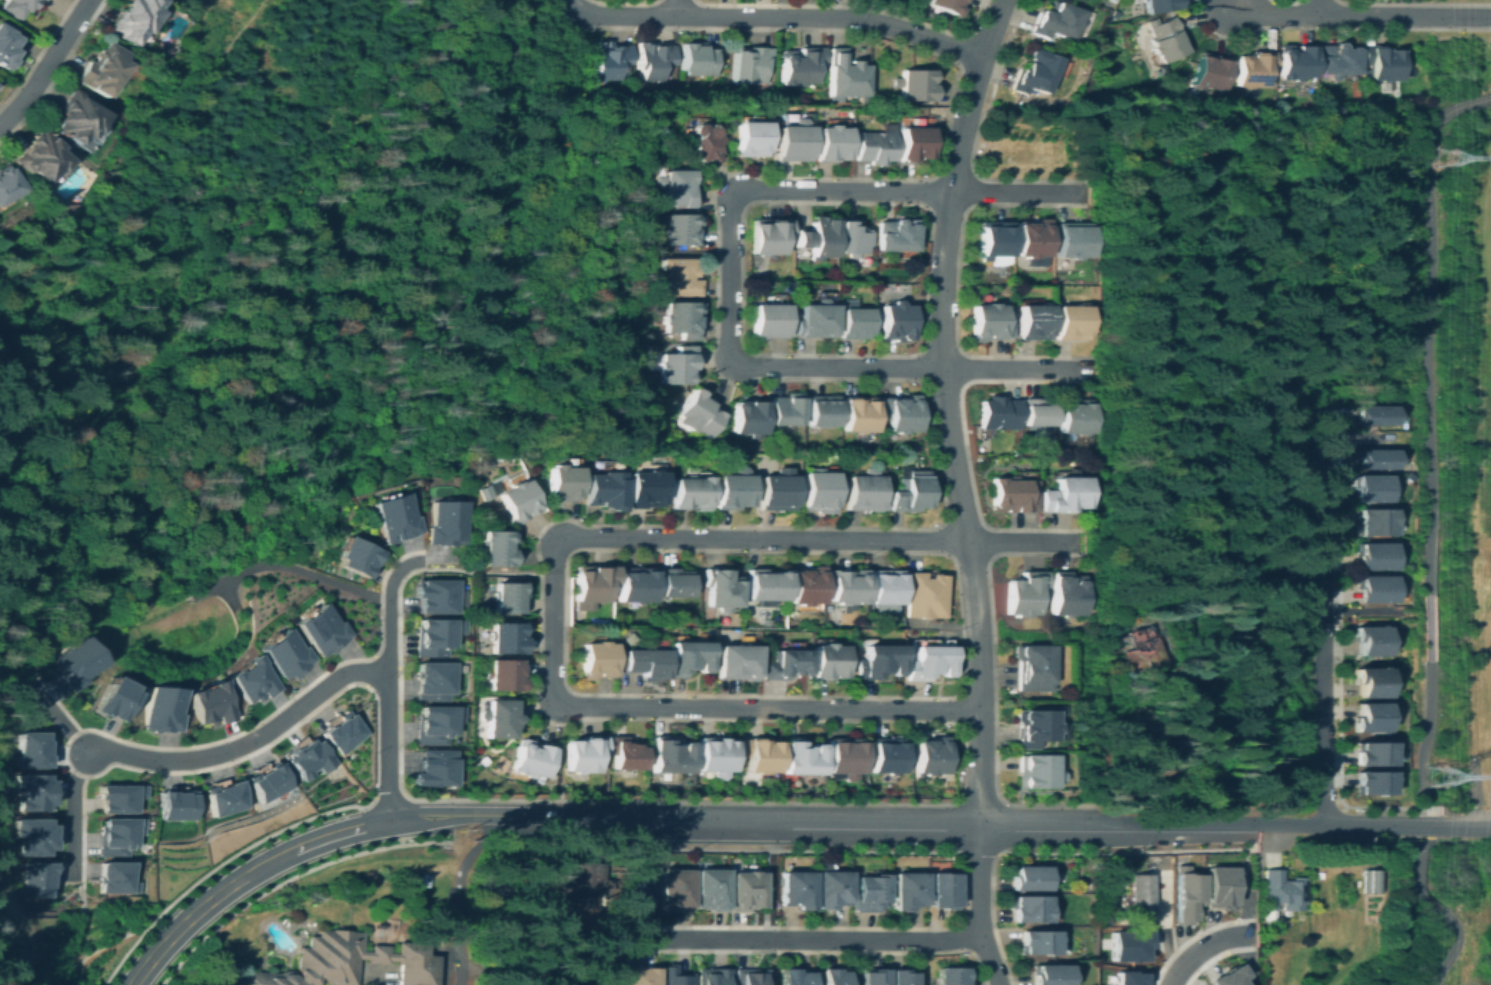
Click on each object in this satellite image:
building: (1159, 5)
building: (949, 6)
building: (16, 7)
road: (678, 7)
road: (1317, 7)
building: (1114, 13)
road: (1358, 14)
road: (618, 15)
road: (831, 18)
building: (131, 19)
building: (1055, 20)
building: (1164, 39)
building: (6, 44)
building: (699, 58)
building: (654, 59)
building: (610, 60)
building: (1337, 60)
building: (1295, 61)
building: (1382, 62)
road: (46, 64)
building: (751, 64)
building: (800, 65)
building: (100, 69)
building: (1252, 69)
road: (52, 70)
building: (1035, 72)
building: (1210, 72)
building: (846, 75)
building: (916, 85)
building: (75, 116)
building: (751, 138)
building: (793, 141)
building: (831, 143)
building: (913, 143)
building: (703, 144)
building: (873, 146)
building: (38, 156)
power tower: (1437, 159)
road: (244, 170)
building: (6, 183)
building: (676, 187)
road: (1018, 193)
building: (681, 229)
building: (769, 235)
building: (896, 235)
building: (818, 238)
building: (853, 238)
building: (1032, 238)
building: (994, 239)
building: (1072, 239)
road: (686, 252)
road: (730, 273)
building: (680, 277)
road: (715, 296)
building: (682, 318)
building: (770, 320)
building: (815, 320)
building: (896, 321)
building: (1035, 321)
building: (1070, 321)
building: (854, 322)
building: (989, 323)
road: (1426, 324)
building: (677, 366)
road: (1017, 369)
road: (947, 406)
building: (784, 410)
building: (822, 411)
building: (899, 412)
building: (1037, 412)
building: (697, 413)
building: (998, 413)
building: (857, 414)
building: (1075, 415)
building: (1376, 415)
building: (747, 418)
road: (1357, 439)
building: (1376, 459)
building: (562, 483)
building: (644, 488)
building: (1370, 488)
building: (731, 489)
building: (603, 490)
building: (774, 490)
building: (817, 490)
building: (908, 490)
building: (864, 491)
building: (689, 492)
building: (1013, 495)
building: (1065, 495)
building: (518, 499)
building: (400, 515)
building: (1374, 521)
building: (450, 527)
road: (762, 539)
road: (1023, 542)
building: (497, 548)
building: (362, 555)
building: (1375, 556)
road: (289, 568)
building: (593, 582)
building: (674, 582)
building: (636, 584)
building: (765, 585)
building: (805, 585)
building: (846, 585)
building: (885, 587)
building: (721, 588)
building: (1375, 589)
road: (227, 594)
building: (925, 594)
building: (1025, 594)
building: (1066, 594)
building: (439, 596)
building: (508, 598)
road: (387, 607)
road: (1361, 611)
road: (1324, 616)
road: (1428, 627)
building: (325, 630)
building: (435, 637)
building: (505, 637)
building: (1371, 640)
building: (1142, 650)
building: (288, 655)
building: (597, 658)
building: (687, 658)
building: (735, 660)
building: (827, 660)
building: (878, 661)
building: (929, 662)
building: (77, 663)
building: (643, 663)
building: (784, 664)
building: (1032, 667)
building: (503, 674)
building: (253, 680)
building: (434, 681)
building: (1370, 681)
building: (115, 699)
building: (211, 703)
building: (162, 708)
road: (689, 708)
road: (56, 715)
building: (1371, 717)
building: (499, 718)
building: (436, 723)
building: (1032, 726)
building: (344, 733)
road: (1424, 739)
road: (245, 743)
road: (388, 747)
building: (34, 749)
building: (1375, 752)
building: (584, 753)
building: (625, 753)
building: (760, 754)
building: (715, 755)
building: (886, 755)
building: (930, 755)
building: (671, 756)
building: (802, 757)
building: (845, 757)
building: (308, 758)
building: (531, 758)
road: (203, 768)
building: (436, 768)
building: (1035, 771)
power tower: (1429, 776)
building: (269, 781)
building: (1374, 783)
building: (37, 792)
building: (120, 797)
building: (226, 798)
road: (820, 801)
building: (176, 805)
road: (71, 815)
road: (556, 818)
road: (849, 819)
road: (1177, 820)
road: (1291, 823)
road: (1382, 825)
road: (1428, 825)
road: (1466, 826)
road: (81, 828)
building: (121, 836)
building: (37, 837)
road: (626, 843)
road: (297, 848)
road: (958, 850)
road: (1052, 851)
road: (309, 867)
road: (1242, 873)
building: (119, 878)
building: (1028, 878)
building: (39, 879)
building: (1370, 881)
building: (1219, 887)
building: (578, 888)
building: (645, 888)
building: (745, 888)
building: (831, 888)
building: (677, 889)
building: (795, 889)
building: (714, 890)
building: (906, 890)
building: (942, 890)
road: (458, 891)
building: (1282, 891)
building: (868, 892)
building: (1140, 894)
building: (1186, 895)
road: (982, 903)
building: (1029, 909)
road: (1441, 911)
park: (1435, 913)
road: (961, 916)
road: (974, 920)
road: (1198, 933)
road: (806, 940)
building: (1037, 942)
building: (1126, 945)
road: (1204, 946)
road: (1213, 956)
building: (1319, 960)
building: (342, 962)
road: (442, 963)
road: (67, 964)
building: (1050, 975)
building: (678, 976)
building: (832, 976)
building: (951, 976)
building: (1229, 976)
road: (371, 977)
building: (755, 977)
building: (795, 977)
building: (872, 977)
building: (900, 977)
building: (1125, 977)
building: (637, 978)
building: (714, 978)
power tower: (1490, 980)

